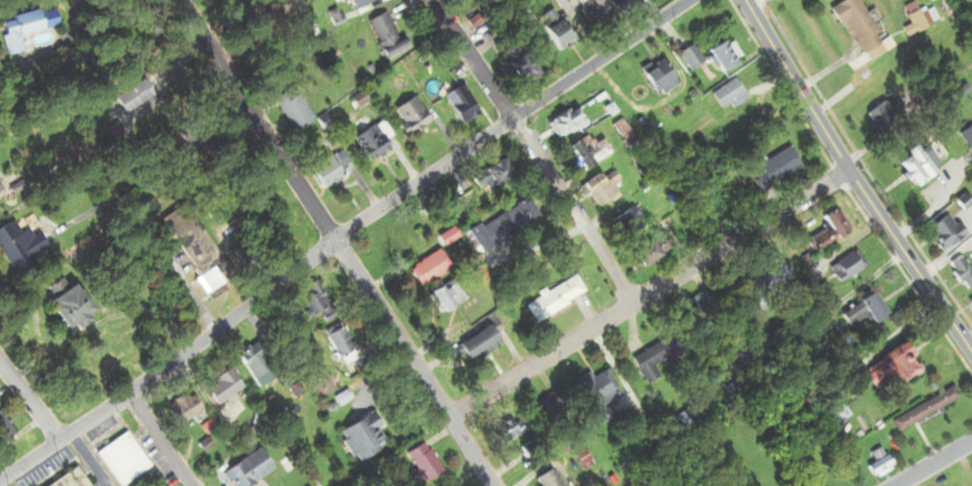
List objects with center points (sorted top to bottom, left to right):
building: (352, 4)
building: (581, 10)
building: (558, 23)
building: (852, 25)
building: (13, 30)
building: (381, 37)
building: (685, 57)
road: (595, 59)
building: (513, 70)
building: (653, 78)
building: (724, 95)
building: (124, 97)
building: (355, 100)
building: (457, 104)
building: (292, 113)
building: (407, 116)
building: (880, 117)
building: (561, 123)
building: (618, 132)
building: (965, 137)
building: (369, 143)
building: (580, 154)
road: (532, 155)
building: (914, 164)
building: (769, 171)
building: (328, 173)
building: (490, 173)
road: (850, 181)
building: (597, 192)
building: (621, 221)
building: (825, 227)
building: (491, 231)
building: (940, 231)
road: (740, 241)
building: (16, 244)
road: (327, 245)
building: (195, 247)
building: (639, 256)
building: (423, 268)
building: (840, 268)
building: (961, 271)
building: (769, 276)
building: (443, 294)
road: (252, 295)
building: (550, 299)
building: (969, 300)
building: (63, 309)
building: (858, 311)
building: (466, 346)
building: (654, 357)
road: (537, 364)
building: (891, 365)
building: (312, 380)
building: (215, 387)
building: (595, 389)
road: (27, 401)
building: (825, 406)
building: (178, 409)
building: (923, 410)
building: (501, 433)
building: (354, 437)
road: (156, 438)
building: (120, 459)
building: (872, 463)
road: (932, 463)
building: (414, 464)
building: (241, 469)
building: (68, 479)
building: (544, 480)

